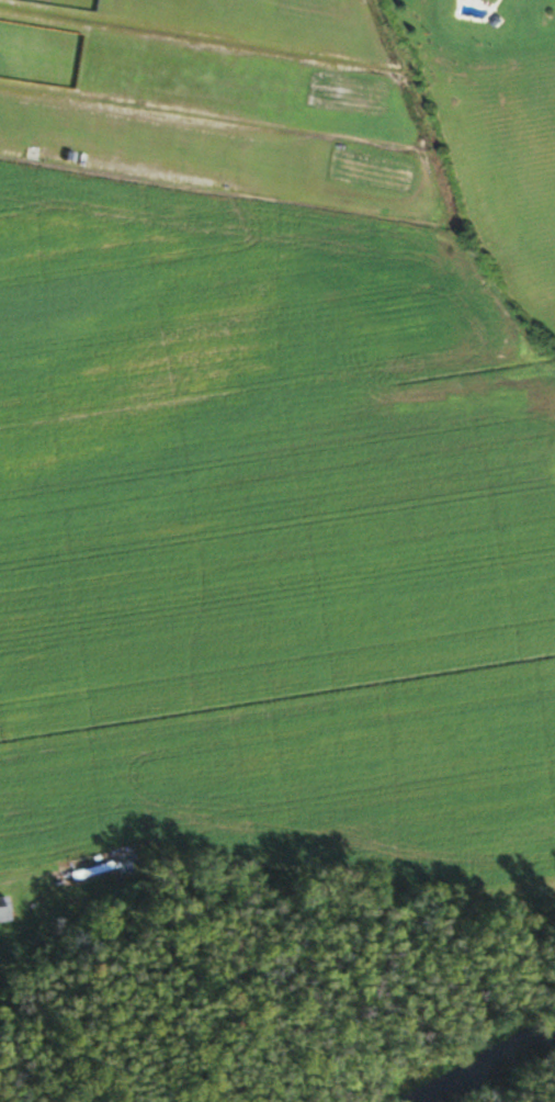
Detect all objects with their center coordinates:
building: (2, 908)

